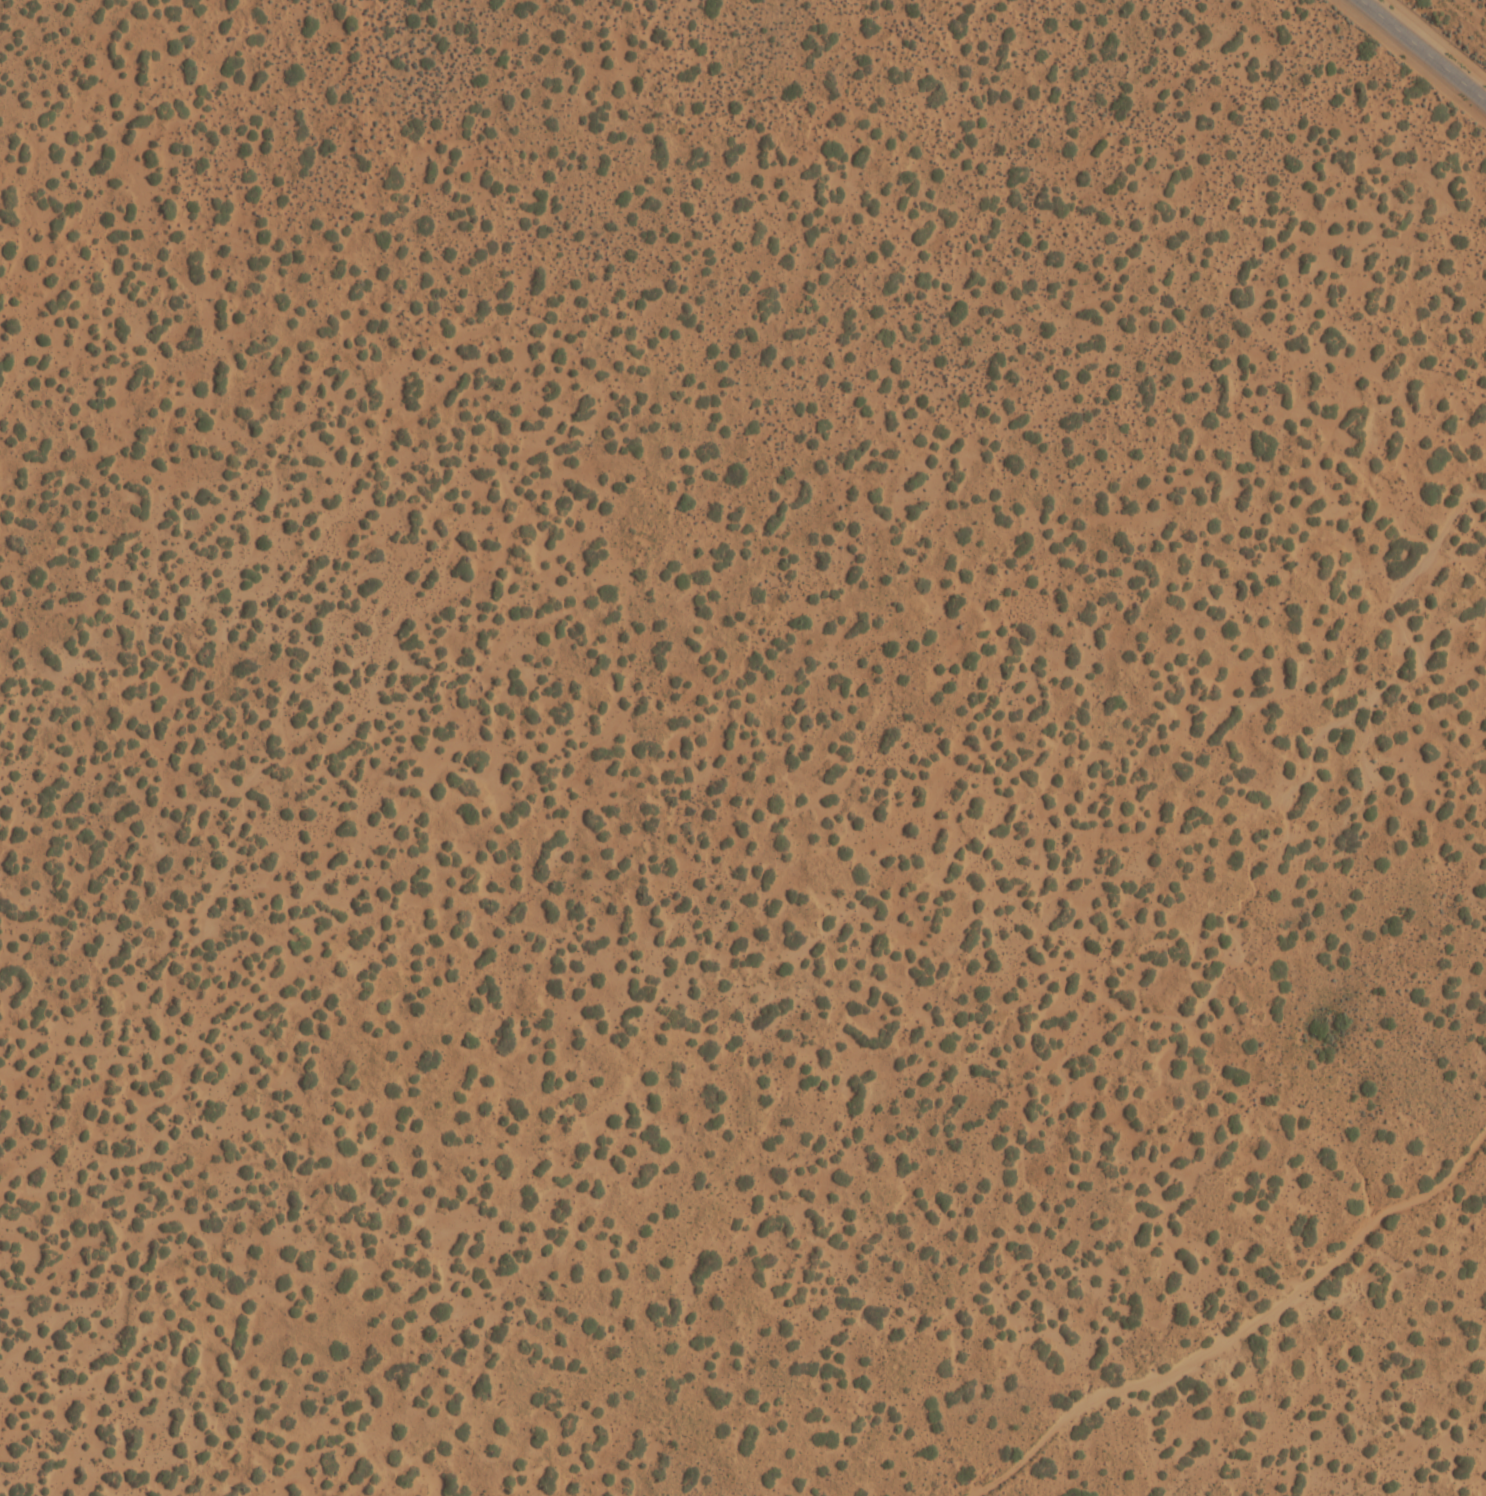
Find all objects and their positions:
road: (1426, 48)

